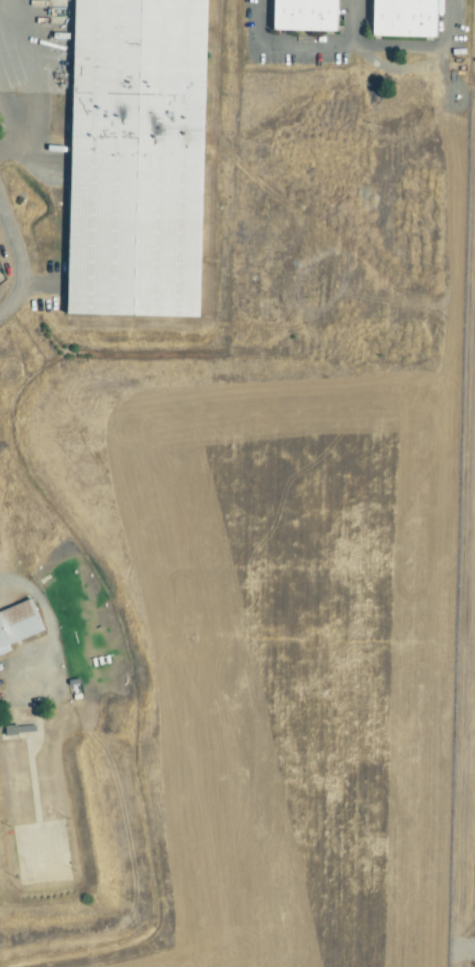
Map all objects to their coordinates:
building: (304, 16)
building: (403, 18)
road: (354, 22)
road: (10, 23)
road: (288, 43)
building: (135, 158)
road: (20, 260)
building: (16, 622)
building: (18, 728)

